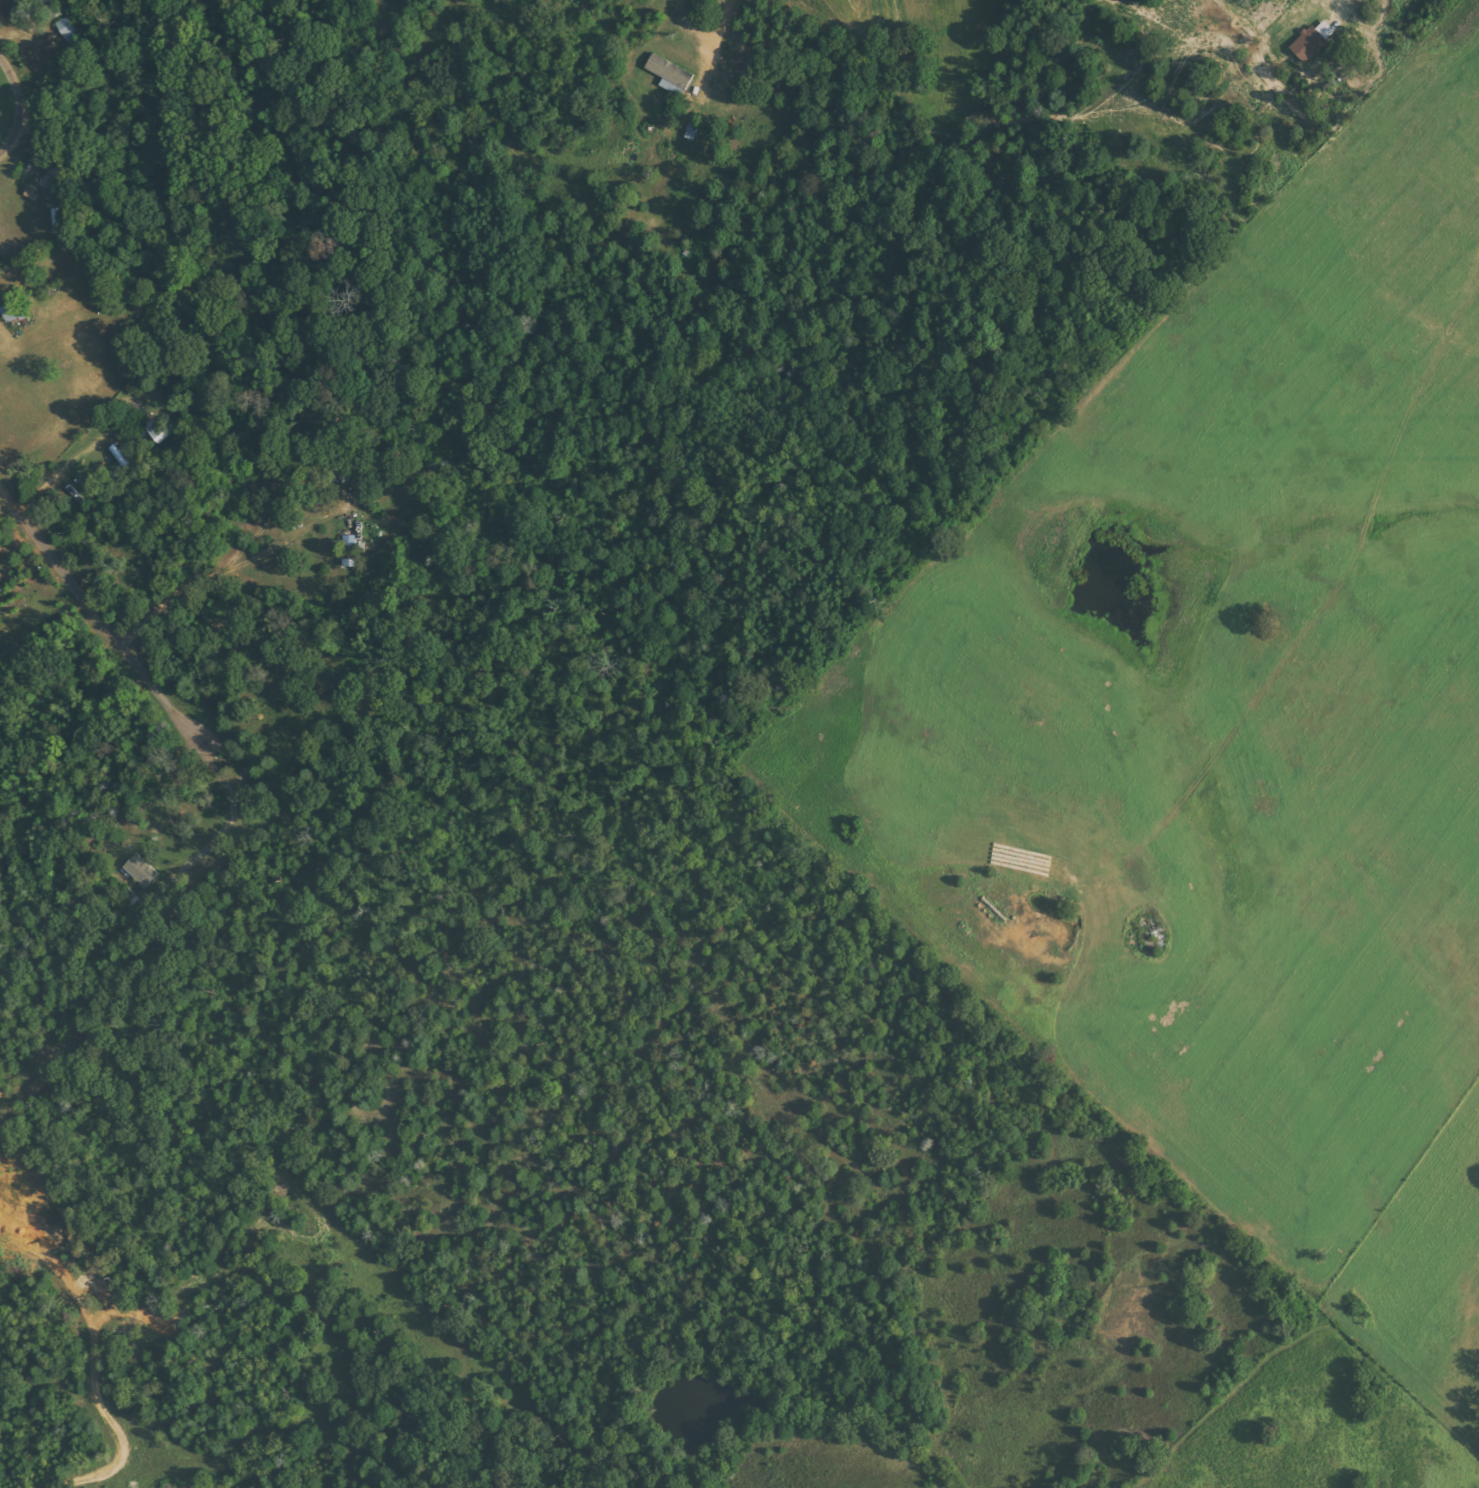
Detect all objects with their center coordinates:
building: (67, 30)
building: (1309, 40)
road: (729, 60)
road: (1, 64)
building: (671, 74)
road: (16, 110)
road: (560, 136)
building: (60, 181)
building: (58, 220)
road: (694, 257)
building: (12, 311)
building: (158, 429)
building: (351, 551)
road: (96, 626)
building: (142, 870)

